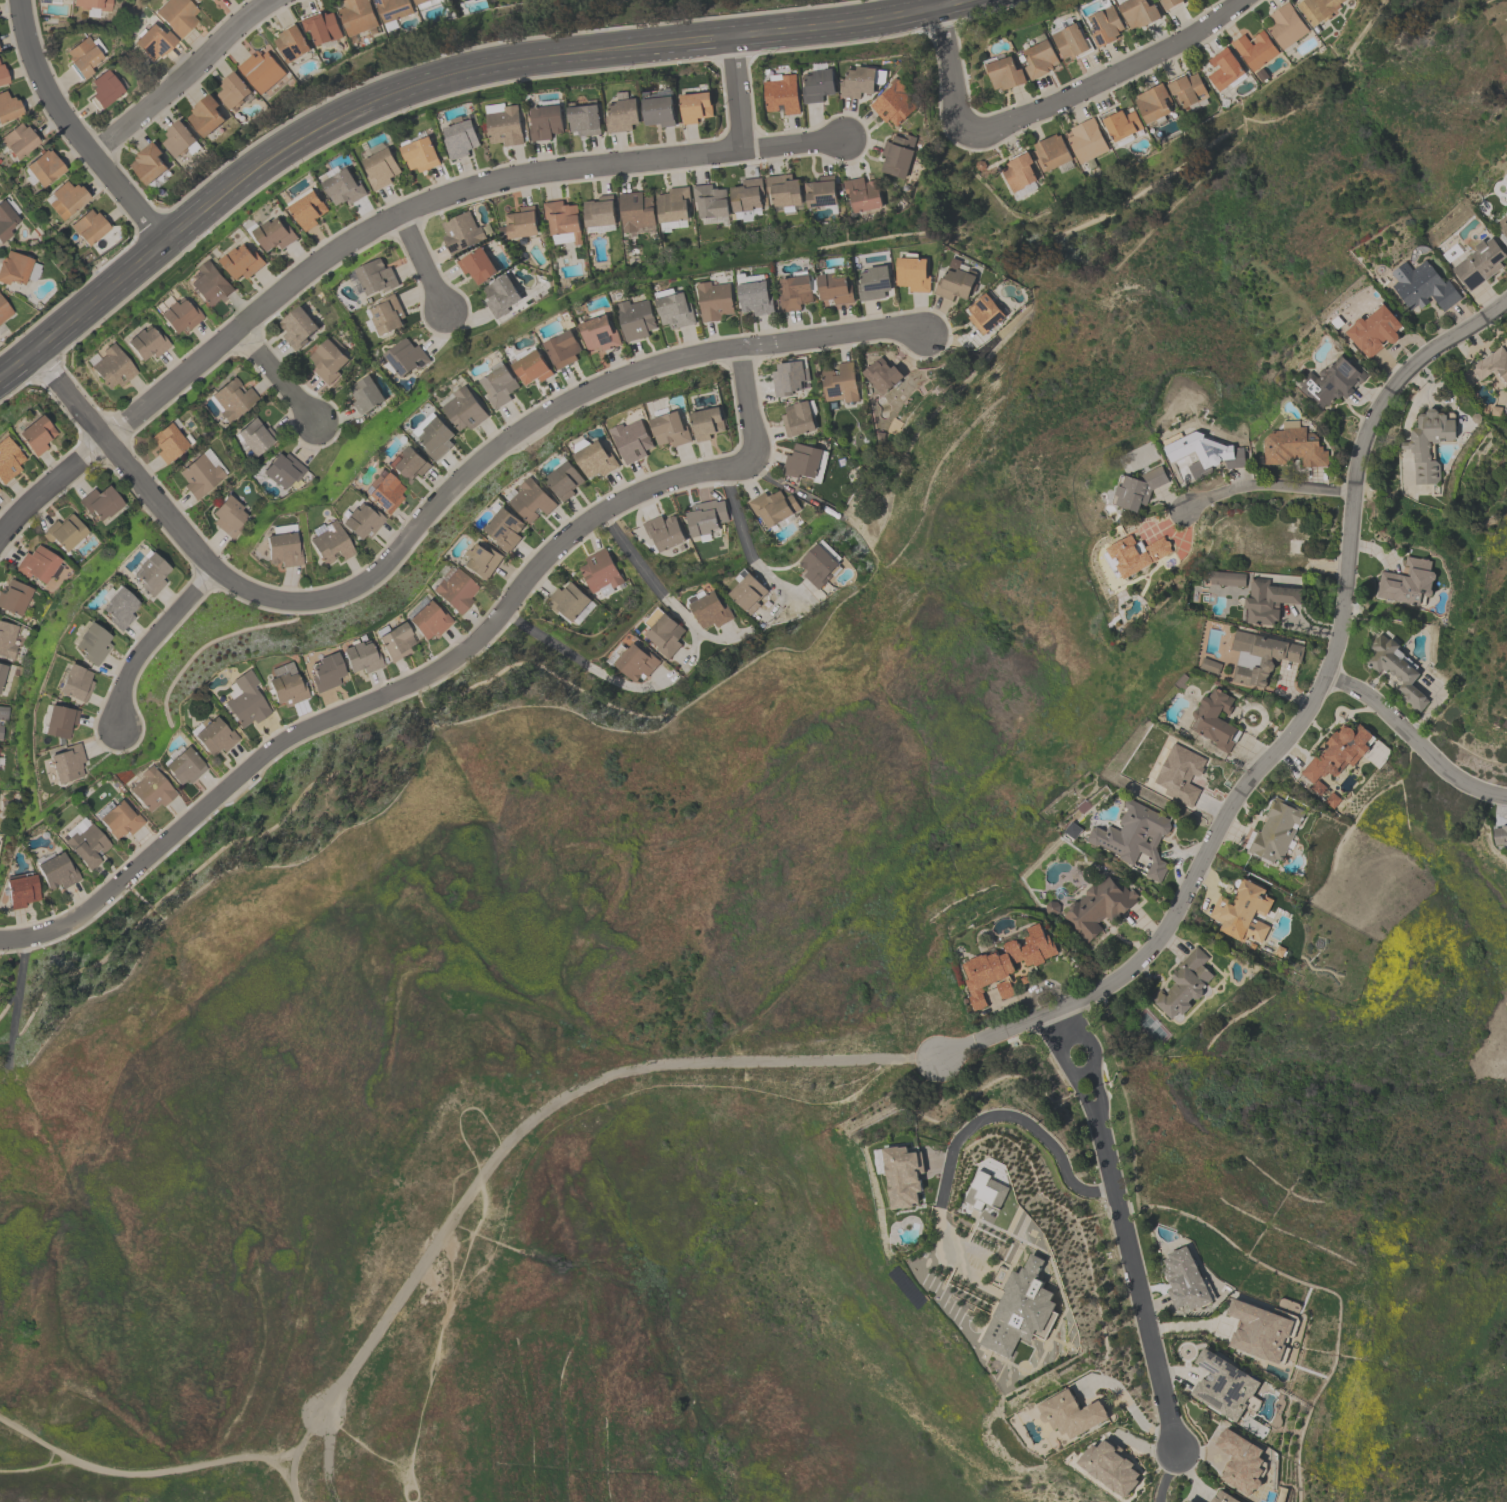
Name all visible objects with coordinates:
building: (199, 1)
building: (425, 2)
building: (89, 3)
building: (1171, 3)
building: (1318, 9)
building: (393, 11)
building: (1139, 12)
building: (176, 15)
building: (357, 16)
building: (1106, 24)
building: (1286, 27)
building: (323, 28)
building: (1071, 40)
building: (152, 41)
building: (292, 42)
building: (1255, 50)
building: (82, 56)
building: (1041, 59)
building: (1224, 69)
building: (261, 70)
building: (1005, 72)
building: (1261, 75)
building: (2, 76)
road: (181, 77)
road: (432, 82)
building: (860, 82)
building: (819, 85)
building: (103, 89)
building: (1187, 89)
building: (234, 91)
road: (735, 94)
building: (782, 94)
building: (895, 103)
building: (1153, 103)
road: (1048, 105)
building: (8, 107)
building: (696, 107)
building: (659, 111)
building: (206, 115)
building: (622, 115)
building: (584, 117)
building: (545, 122)
building: (1120, 123)
building: (504, 124)
road: (73, 129)
building: (461, 139)
building: (17, 140)
building: (180, 140)
building: (1086, 140)
building: (1051, 153)
building: (420, 154)
building: (898, 154)
building: (149, 163)
building: (43, 167)
building: (382, 168)
building: (1019, 174)
building: (343, 186)
building: (783, 190)
building: (821, 192)
building: (862, 194)
building: (65, 198)
building: (746, 199)
building: (710, 201)
building: (1506, 201)
building: (673, 207)
building: (308, 208)
building: (600, 211)
building: (636, 211)
building: (6, 217)
building: (563, 219)
building: (521, 223)
road: (371, 225)
building: (1502, 225)
building: (88, 226)
building: (461, 232)
building: (274, 234)
road: (422, 259)
building: (244, 261)
building: (1479, 264)
building: (477, 265)
building: (17, 268)
building: (913, 273)
building: (377, 277)
building: (956, 281)
building: (874, 283)
building: (211, 284)
building: (1423, 286)
building: (835, 287)
building: (795, 291)
building: (755, 295)
building: (501, 296)
building: (715, 300)
building: (674, 309)
building: (4, 310)
building: (985, 313)
building: (177, 314)
building: (388, 314)
building: (636, 319)
building: (298, 327)
building: (1374, 330)
building: (599, 334)
building: (145, 342)
building: (563, 349)
building: (405, 358)
building: (329, 360)
building: (1492, 365)
building: (111, 367)
building: (532, 368)
road: (276, 374)
building: (789, 378)
building: (1331, 382)
building: (840, 383)
road: (1422, 384)
building: (499, 385)
building: (365, 395)
building: (230, 398)
building: (464, 410)
building: (1496, 411)
road: (538, 418)
building: (799, 418)
building: (707, 423)
building: (670, 429)
building: (35, 434)
building: (252, 436)
building: (436, 438)
building: (633, 441)
building: (167, 442)
building: (1429, 443)
building: (1293, 446)
building: (1204, 454)
building: (8, 459)
road: (123, 460)
building: (596, 460)
building: (805, 462)
building: (408, 464)
building: (282, 469)
building: (199, 475)
building: (565, 481)
road: (1265, 484)
road: (791, 488)
building: (1137, 489)
building: (384, 491)
building: (533, 501)
building: (100, 502)
building: (773, 507)
building: (228, 516)
building: (706, 517)
building: (360, 520)
road: (1165, 524)
road: (745, 528)
building: (506, 530)
building: (64, 532)
building: (664, 532)
road: (742, 532)
building: (328, 541)
building: (282, 545)
road: (1375, 550)
building: (1134, 555)
building: (480, 561)
building: (38, 564)
building: (819, 566)
building: (600, 573)
building: (149, 574)
building: (1228, 579)
road: (651, 580)
building: (1408, 583)
building: (453, 590)
building: (748, 592)
building: (15, 597)
building: (567, 601)
building: (1268, 602)
building: (118, 608)
building: (709, 610)
building: (426, 620)
road: (1304, 628)
building: (664, 633)
road: (718, 637)
building: (7, 639)
road: (149, 639)
building: (392, 640)
building: (91, 644)
road: (698, 650)
building: (359, 657)
building: (1260, 658)
road: (578, 660)
building: (635, 661)
building: (1210, 666)
building: (1396, 668)
building: (2, 671)
building: (324, 672)
road: (429, 673)
road: (1322, 680)
building: (74, 682)
building: (285, 689)
road: (1287, 689)
building: (243, 700)
road: (1248, 706)
road: (1239, 709)
building: (3, 712)
fountain: (1340, 713)
building: (1215, 720)
building: (58, 721)
road: (1274, 729)
building: (0, 730)
building: (213, 736)
road: (1413, 740)
building: (1339, 753)
building: (67, 763)
building: (182, 766)
building: (1180, 774)
building: (150, 788)
building: (1318, 788)
building: (1332, 800)
building: (117, 818)
building: (1073, 831)
building: (1276, 833)
building: (1501, 836)
building: (1135, 837)
building: (84, 842)
road: (1183, 849)
building: (54, 870)
building: (20, 890)
building: (1099, 906)
building: (1052, 908)
building: (1242, 912)
road: (1129, 941)
building: (1279, 951)
building: (1005, 964)
building: (1024, 979)
building: (1184, 985)
road: (987, 1036)
road: (1092, 1054)
road: (1064, 1065)
road: (557, 1101)
road: (971, 1125)
road: (538, 1141)
building: (900, 1177)
building: (983, 1193)
building: (1184, 1278)
road: (1134, 1280)
road: (421, 1293)
building: (1018, 1312)
road: (1190, 1324)
building: (1258, 1329)
road: (1178, 1372)
building: (1225, 1387)
road: (1131, 1407)
building: (1070, 1416)
road: (371, 1444)
road: (1144, 1447)
road: (325, 1454)
building: (1241, 1461)
road: (32, 1465)
building: (1110, 1469)
road: (1189, 1473)
road: (166, 1474)
road: (1165, 1476)
road: (288, 1480)
building: (1223, 1498)
building: (1188, 1501)

